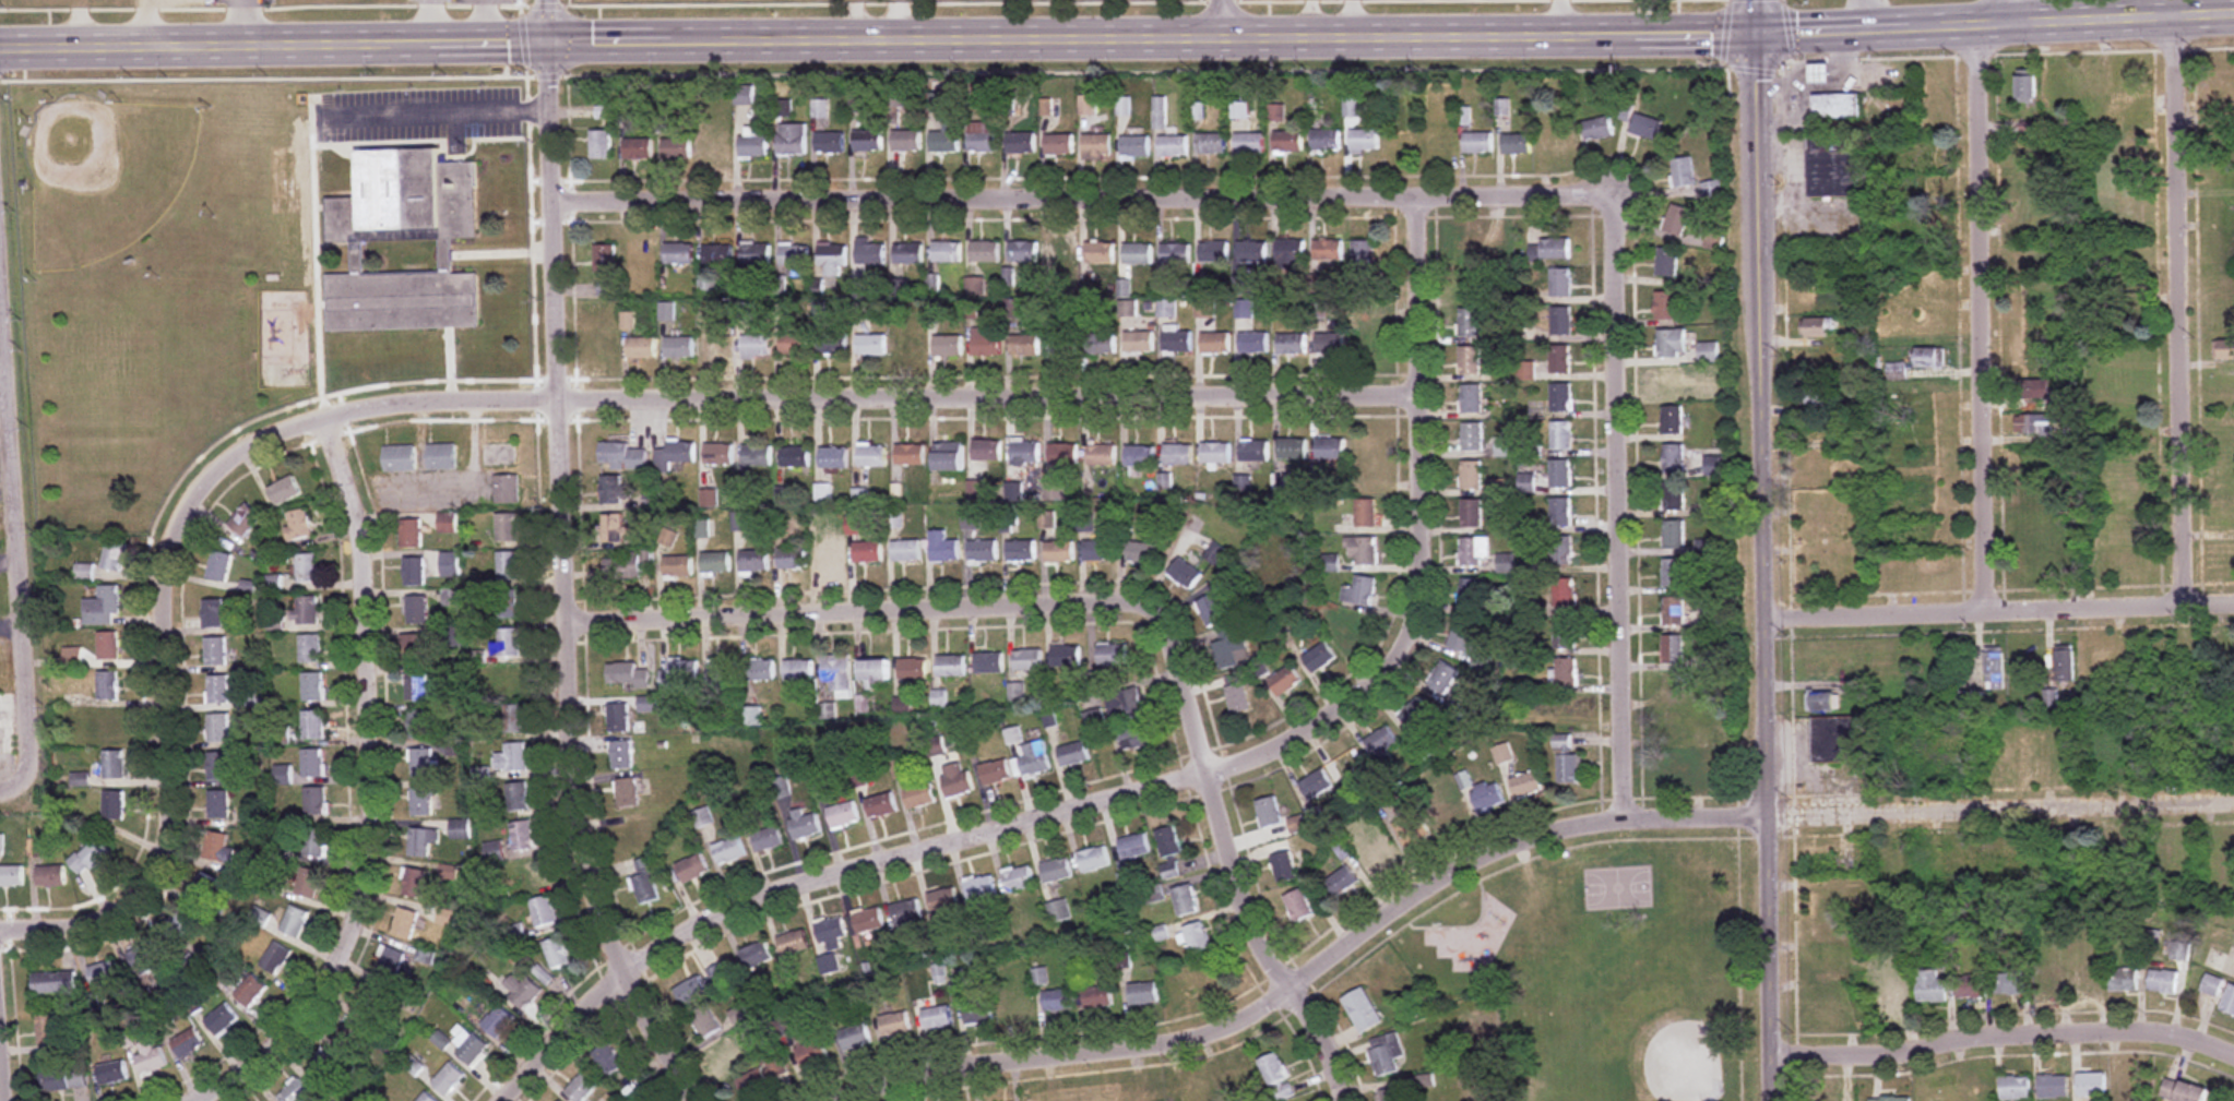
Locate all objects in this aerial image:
road: (1857, 15)
road: (1559, 17)
road: (1648, 17)
road: (1756, 17)
road: (1226, 19)
road: (1348, 19)
road: (248, 21)
road: (1995, 25)
traffic signals: (1757, 35)
road: (878, 36)
building: (1821, 73)
building: (2125, 84)
building: (2059, 86)
building: (2091, 86)
building: (2025, 88)
building: (746, 96)
building: (1837, 106)
building: (1090, 107)
road: (440, 109)
building: (606, 112)
building: (2126, 112)
building: (2102, 120)
building: (1645, 129)
building: (1597, 130)
building: (983, 137)
building: (947, 139)
building: (793, 141)
building: (1326, 141)
building: (868, 142)
building: (906, 142)
building: (1364, 142)
building: (1558, 142)
building: (1021, 143)
building: (1287, 143)
building: (603, 144)
building: (830, 144)
building: (1059, 144)
building: (1211, 144)
building: (1249, 144)
building: (1439, 144)
building: (1478, 144)
building: (1517, 145)
building: (753, 146)
building: (1097, 146)
building: (1173, 146)
building: (715, 147)
building: (1136, 147)
building: (640, 149)
building: (677, 149)
building: (2033, 149)
building: (1833, 165)
building: (1683, 172)
park: (104, 173)
building: (2031, 183)
building: (1712, 190)
road: (1088, 194)
building: (2028, 218)
building: (1677, 219)
building: (1925, 220)
park: (2215, 227)
building: (1713, 241)
building: (405, 244)
building: (1472, 249)
building: (985, 251)
building: (1328, 251)
building: (1549, 251)
building: (947, 252)
building: (1023, 252)
building: (1252, 252)
building: (1291, 252)
building: (680, 253)
building: (757, 253)
building: (907, 253)
building: (1061, 253)
building: (1100, 253)
building: (1213, 253)
building: (718, 254)
building: (870, 254)
building: (1138, 254)
building: (1176, 254)
building: (1363, 254)
building: (796, 259)
building: (833, 259)
building: (1667, 262)
building: (607, 270)
building: (1560, 284)
building: (2127, 284)
building: (2028, 285)
building: (1470, 287)
road: (1981, 304)
building: (1667, 306)
building: (1205, 308)
road: (2179, 308)
building: (1128, 309)
building: (1167, 309)
building: (1244, 309)
building: (669, 311)
building: (1561, 321)
building: (1927, 322)
building: (1472, 325)
building: (1818, 326)
building: (608, 333)
building: (1364, 339)
building: (985, 343)
building: (1139, 343)
building: (1177, 343)
building: (796, 344)
building: (834, 344)
building: (1102, 344)
building: (1216, 344)
building: (1253, 344)
building: (1672, 344)
building: (872, 345)
building: (911, 345)
building: (1292, 345)
building: (1329, 345)
building: (721, 346)
building: (758, 346)
building: (948, 346)
building: (1024, 346)
building: (1063, 346)
building: (681, 347)
building: (643, 348)
building: (2224, 349)
building: (2028, 354)
building: (1932, 358)
building: (1560, 359)
building: (1470, 360)
building: (1669, 382)
building: (2122, 384)
building: (2035, 390)
building: (1934, 392)
building: (1819, 396)
building: (1560, 397)
building: (1472, 398)
road: (872, 399)
building: (1674, 419)
building: (2036, 423)
building: (1934, 428)
building: (1561, 435)
building: (1472, 436)
building: (1505, 446)
building: (1330, 447)
building: (1293, 448)
building: (987, 450)
building: (1255, 451)
building: (1024, 452)
building: (1216, 453)
building: (1365, 453)
building: (676, 454)
building: (722, 454)
building: (912, 454)
building: (1063, 454)
building: (759, 455)
building: (874, 455)
building: (950, 455)
building: (1102, 455)
building: (1178, 455)
building: (443, 456)
building: (625, 456)
building: (796, 456)
building: (1140, 456)
building: (401, 457)
building: (835, 457)
building: (1674, 457)
building: (1820, 467)
building: (1560, 472)
building: (1471, 474)
park: (2214, 481)
building: (1526, 483)
building: (508, 489)
building: (614, 489)
building: (285, 490)
building: (2035, 491)
building: (825, 492)
building: (1932, 494)
building: (1674, 495)
road: (1619, 507)
building: (1561, 511)
building: (1366, 512)
building: (1472, 513)
building: (246, 519)
building: (449, 523)
building: (298, 524)
building: (857, 525)
building: (509, 527)
building: (616, 527)
building: (413, 532)
building: (1674, 534)
building: (944, 547)
building: (1362, 548)
building: (1560, 549)
building: (908, 550)
building: (984, 550)
building: (1022, 550)
building: (1098, 550)
building: (1473, 550)
building: (870, 551)
building: (1061, 551)
road: (17, 553)
building: (1142, 553)
building: (832, 554)
building: (115, 555)
building: (794, 558)
building: (757, 561)
building: (718, 563)
building: (451, 564)
building: (221, 565)
building: (510, 565)
road: (562, 565)
building: (629, 565)
building: (680, 566)
building: (308, 567)
road: (1762, 567)
building: (415, 571)
building: (84, 572)
building: (1186, 573)
building: (1674, 573)
building: (274, 584)
building: (1360, 590)
building: (1470, 591)
building: (1564, 591)
building: (454, 597)
building: (509, 603)
building: (103, 606)
building: (418, 608)
building: (307, 610)
building: (1212, 610)
building: (1674, 610)
road: (855, 612)
building: (213, 613)
road: (1998, 613)
building: (1350, 626)
building: (1564, 633)
building: (1464, 637)
building: (509, 643)
building: (108, 645)
building: (1232, 647)
building: (310, 648)
building: (417, 648)
building: (1673, 649)
building: (216, 651)
building: (1067, 655)
building: (1114, 655)
building: (1320, 657)
building: (1029, 659)
building: (991, 662)
building: (2065, 665)
building: (953, 666)
building: (915, 668)
building: (763, 670)
building: (801, 670)
building: (1995, 670)
building: (724, 671)
building: (877, 671)
building: (1566, 671)
building: (681, 673)
building: (629, 674)
building: (841, 674)
building: (1443, 677)
building: (513, 680)
building: (1285, 680)
building: (108, 685)
building: (313, 686)
building: (417, 686)
building: (1673, 686)
building: (219, 690)
building: (1239, 698)
building: (1963, 701)
road: (174, 702)
building: (1821, 703)
building: (1129, 706)
building: (904, 707)
building: (1562, 709)
building: (754, 716)
building: (1417, 716)
building: (516, 718)
building: (620, 718)
building: (110, 725)
building: (420, 725)
building: (1672, 725)
building: (313, 726)
building: (218, 728)
building: (1136, 738)
building: (1842, 740)
building: (1382, 741)
building: (1561, 743)
building: (938, 747)
building: (623, 753)
building: (1076, 754)
building: (514, 757)
building: (1034, 759)
building: (423, 763)
building: (114, 764)
building: (313, 764)
building: (218, 766)
building: (1677, 766)
building: (1568, 768)
building: (998, 773)
building: (282, 776)
building: (959, 779)
road: (1171, 782)
building: (1317, 785)
building: (1526, 785)
building: (823, 786)
road: (372, 790)
building: (629, 792)
building: (520, 795)
building: (923, 795)
building: (1487, 795)
building: (316, 801)
building: (423, 801)
building: (112, 804)
building: (218, 804)
building: (883, 804)
building: (1270, 812)
building: (1450, 814)
building: (846, 815)
building: (1316, 815)
building: (807, 824)
building: (1298, 824)
building: (461, 828)
building: (1413, 829)
building: (524, 834)
building: (637, 838)
building: (770, 838)
building: (424, 840)
building: (1171, 841)
building: (316, 843)
road: (1510, 845)
building: (1137, 846)
building: (218, 848)
building: (1343, 849)
building: (730, 850)
building: (496, 851)
building: (1381, 854)
building: (91, 855)
building: (2125, 858)
building: (1096, 859)
road: (1232, 859)
building: (1284, 860)
building: (1834, 865)
building: (694, 867)
building: (1059, 871)
building: (11, 875)
building: (50, 876)
building: (646, 879)
building: (1021, 879)
building: (1343, 879)
building: (415, 882)
building: (309, 883)
building: (983, 888)
building: (206, 890)
building: (1158, 894)
building: (1187, 900)
building: (947, 901)
building: (1827, 903)
building: (1299, 905)
building: (545, 910)
building: (1061, 911)
building: (908, 912)
building: (260, 918)
building: (447, 918)
building: (870, 920)
building: (295, 922)
building: (406, 923)
building: (177, 926)
building: (832, 929)
building: (1831, 932)
building: (1197, 937)
building: (796, 942)
building: (558, 952)
building: (2180, 952)
building: (758, 955)
building: (145, 958)
building: (275, 958)
building: (391, 962)
park: (1607, 964)
building: (104, 973)
building: (1196, 974)
building: (1041, 977)
building: (2087, 980)
building: (2125, 980)
building: (2048, 981)
building: (2164, 981)
building: (54, 983)
building: (2010, 983)
building: (703, 985)
building: (1971, 985)
building: (2212, 985)
building: (1932, 986)
building: (523, 990)
building: (251, 991)
building: (1144, 993)
building: (1098, 997)
building: (1892, 997)
building: (375, 1001)
building: (1058, 1001)
building: (2229, 1001)
building: (1019, 1007)
building: (1362, 1010)
building: (978, 1012)
building: (937, 1018)
building: (222, 1019)
building: (499, 1021)
building: (705, 1021)
building: (895, 1025)
building: (47, 1029)
road: (5, 1030)
building: (349, 1034)
road: (2001, 1034)
building: (855, 1037)
building: (188, 1044)
building: (471, 1046)
building: (811, 1052)
building: (725, 1054)
building: (1385, 1054)
building: (151, 1058)
building: (609, 1060)
building: (324, 1066)
building: (776, 1067)
building: (1274, 1068)
building: (111, 1073)
building: (61, 1075)
building: (449, 1078)
building: (1236, 1079)
building: (751, 1082)
building: (2092, 1085)
building: (2130, 1085)
building: (583, 1087)
building: (2054, 1087)
building: (2016, 1088)
building: (1198, 1090)
building: (295, 1091)
building: (1284, 1091)
building: (2183, 1091)
building: (1975, 1092)
building: (1393, 1094)
building: (1935, 1097)
building: (427, 1098)
building: (1834, 1099)
building: (1890, 1099)

